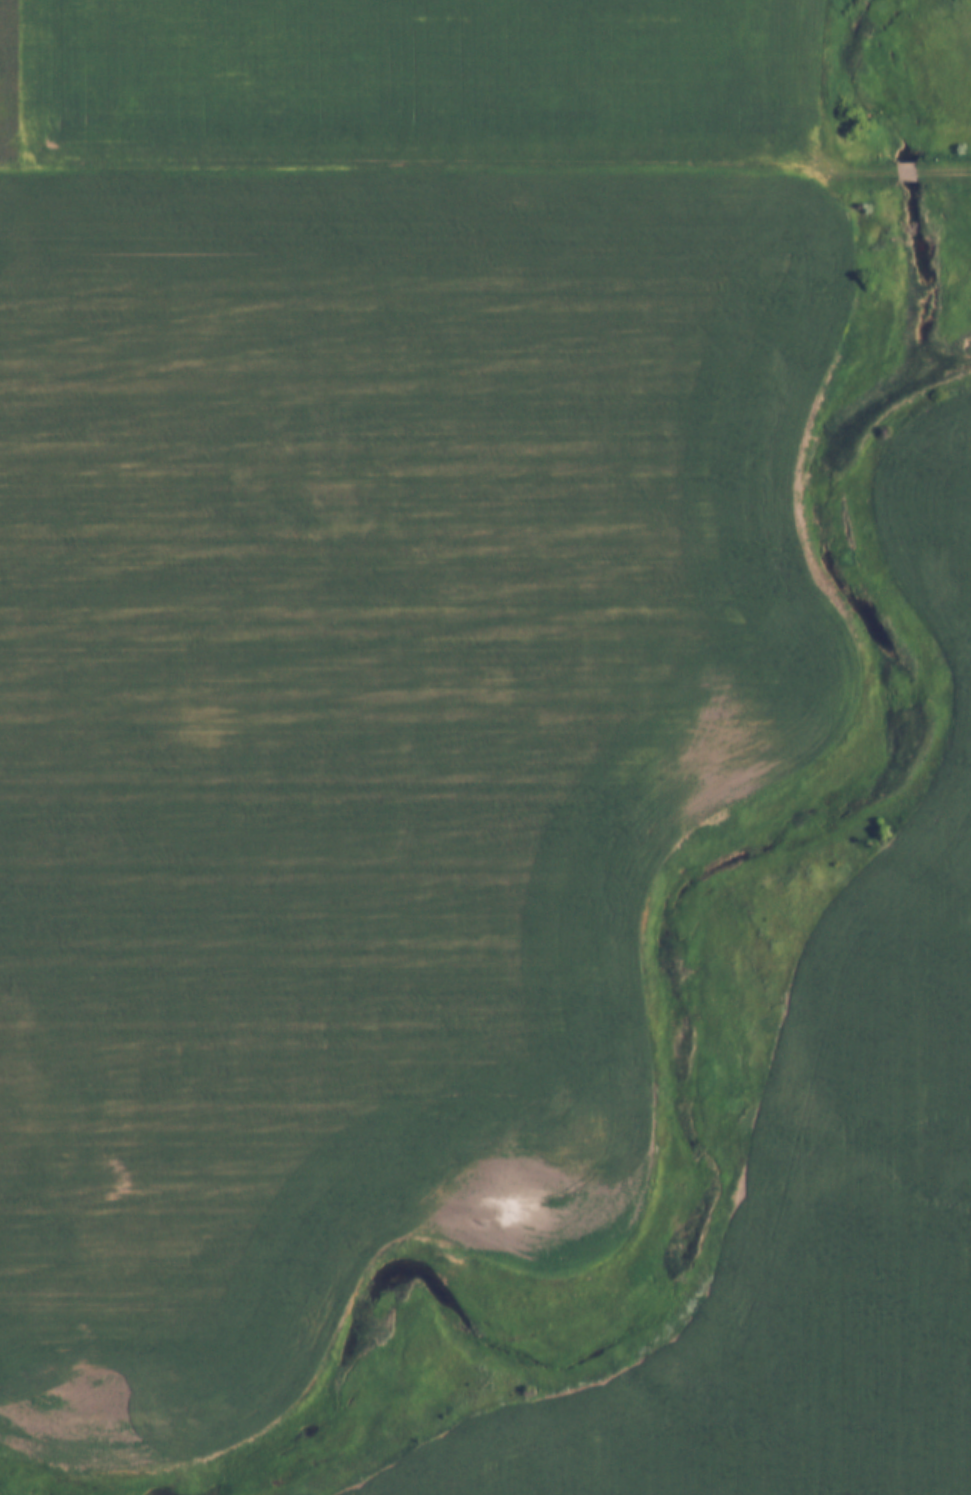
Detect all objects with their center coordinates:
road: (793, 90)
road: (943, 165)
road: (863, 166)
road: (905, 166)

